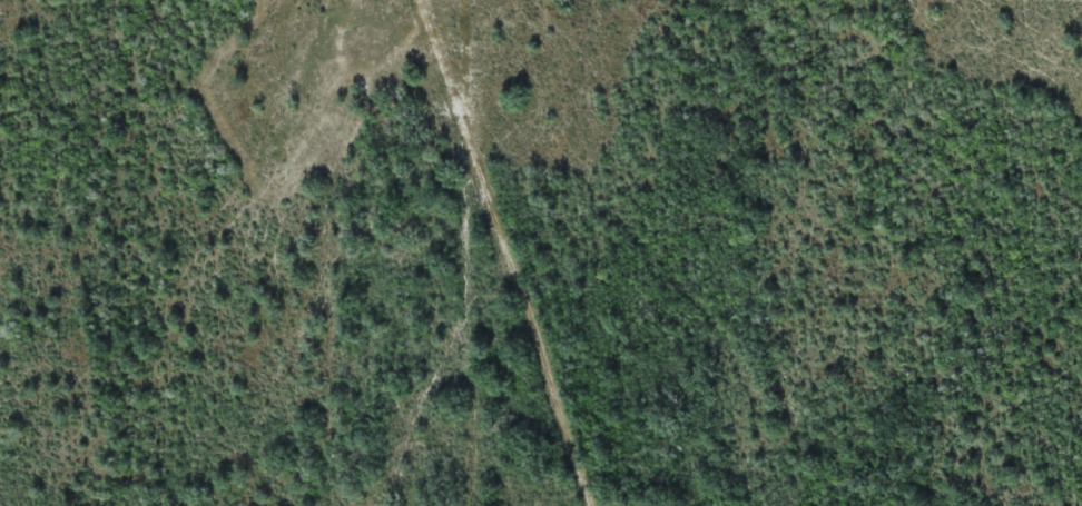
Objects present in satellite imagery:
road: (500, 252)

